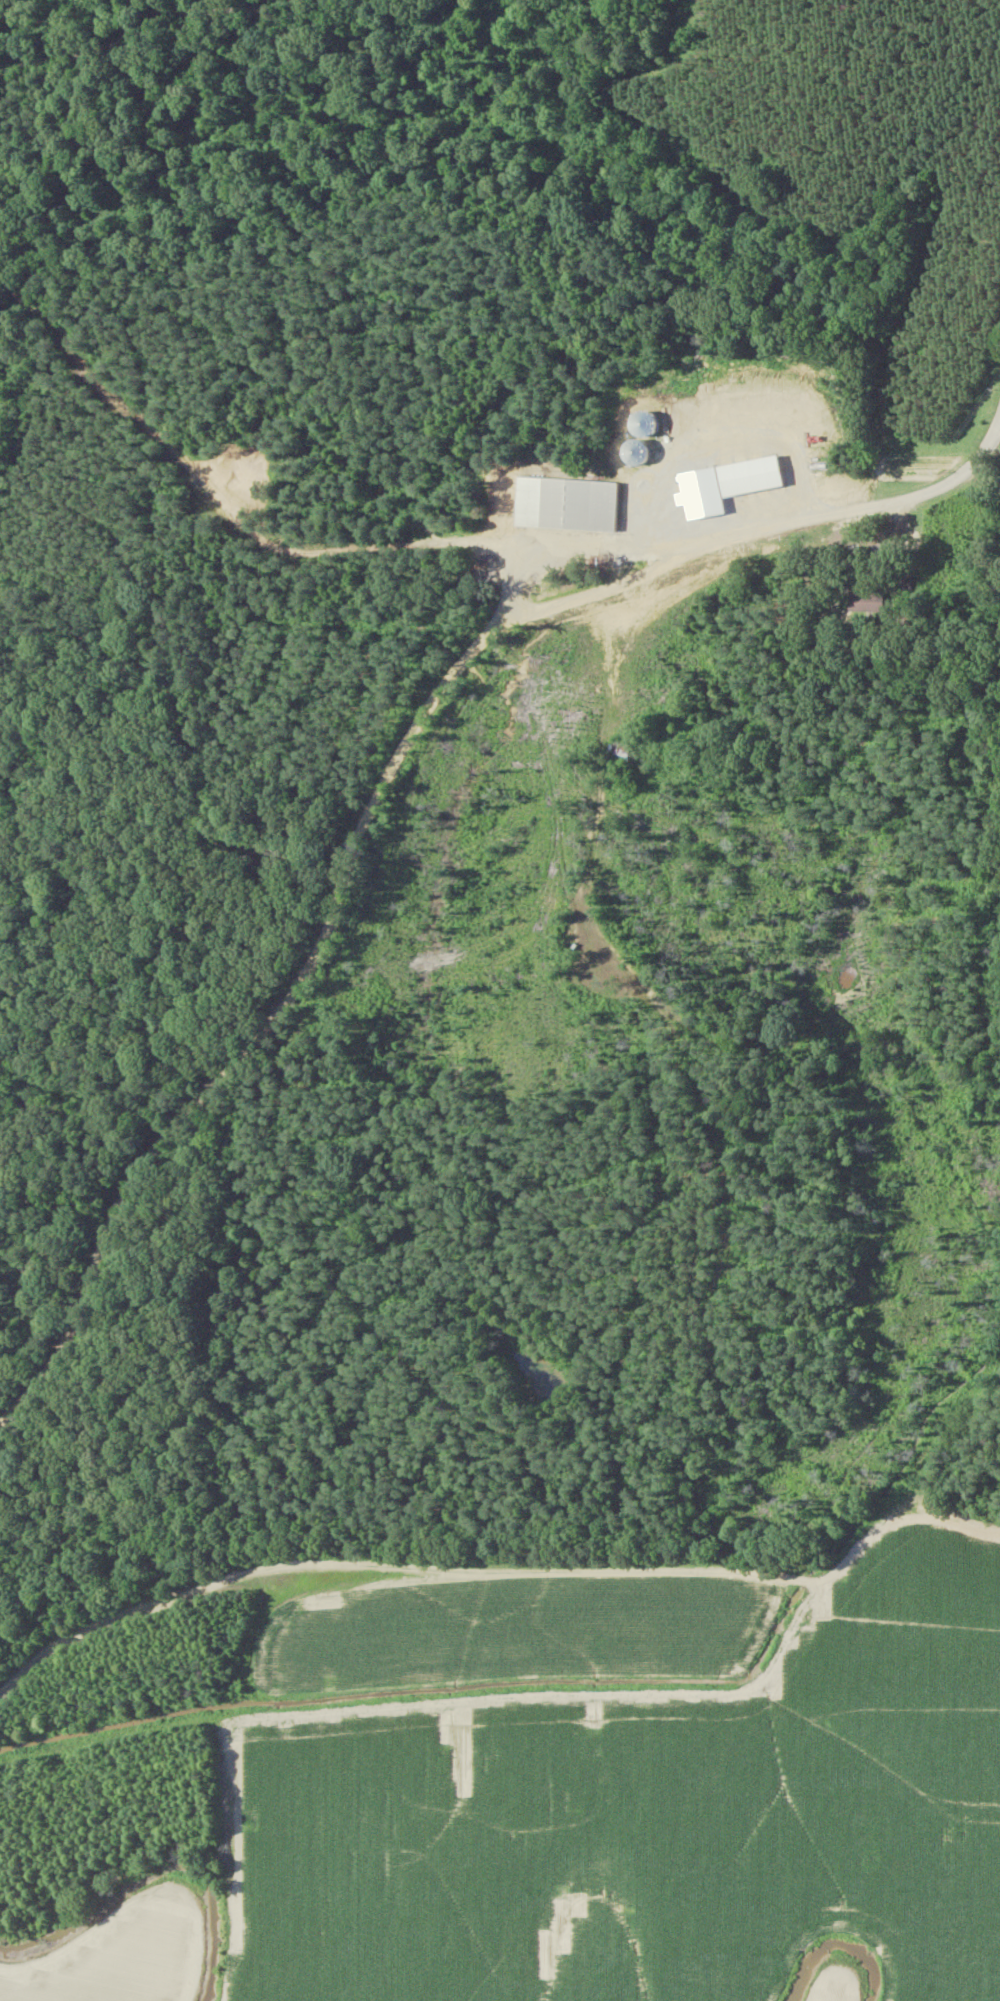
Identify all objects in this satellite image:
building: (563, 504)
road: (391, 783)

